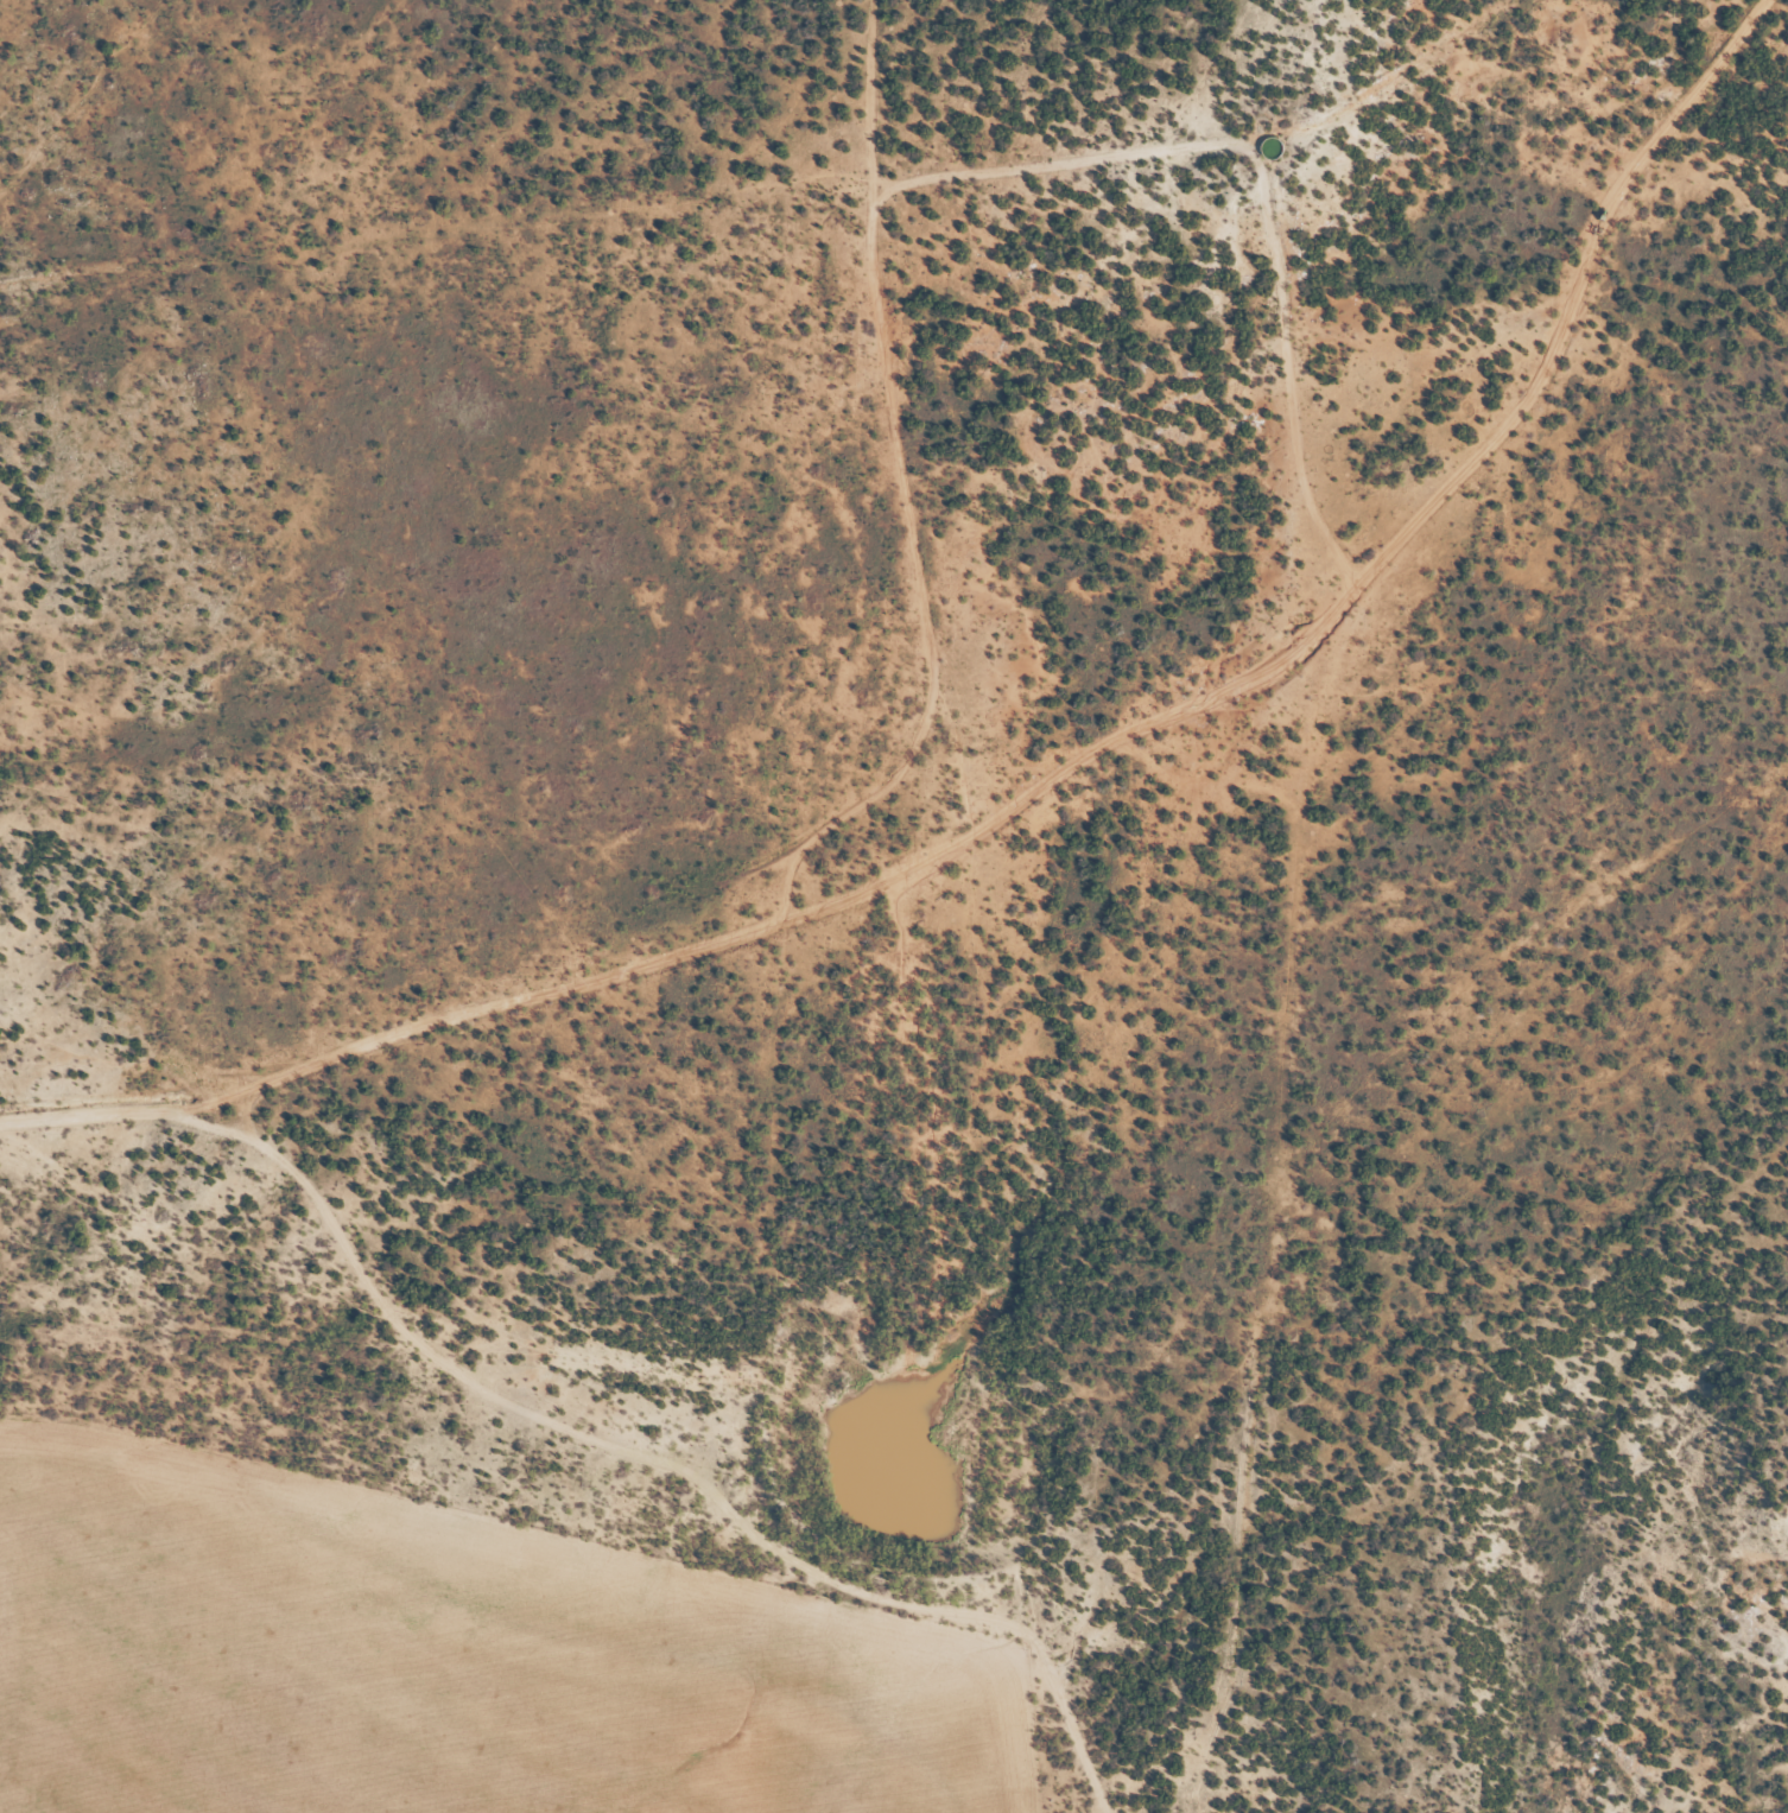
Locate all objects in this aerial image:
road: (882, 405)
road: (1031, 787)
road: (667, 1460)

